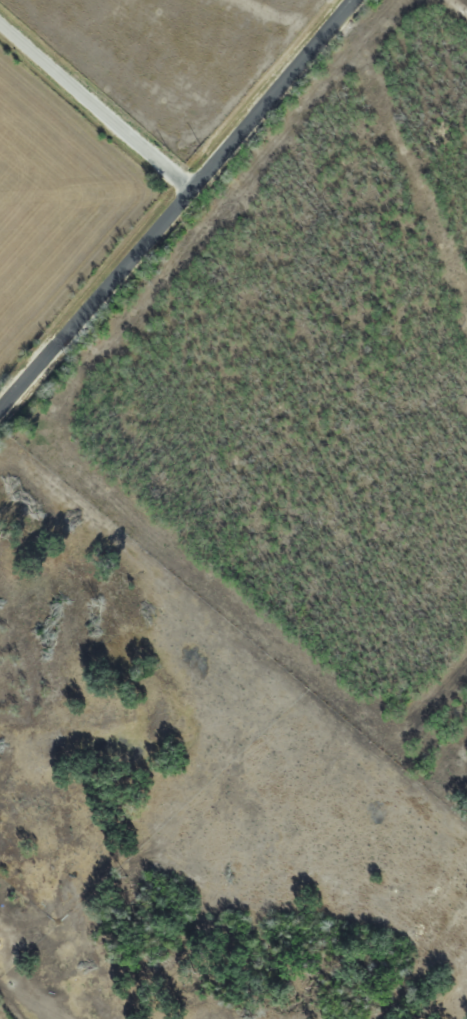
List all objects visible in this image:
road: (97, 103)
road: (177, 207)

